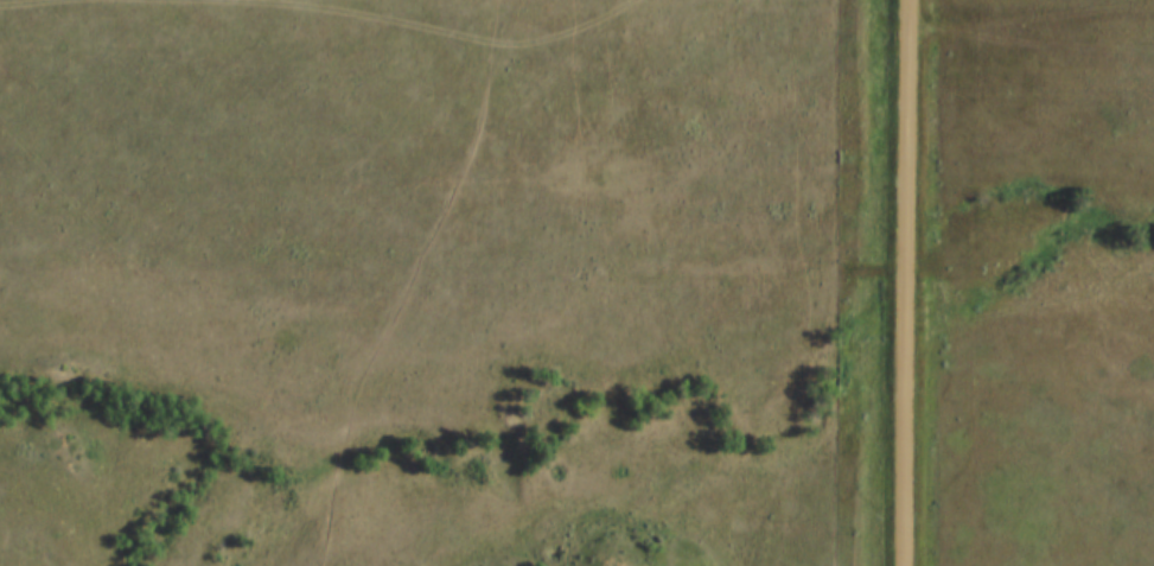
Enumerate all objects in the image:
road: (1031, 46)
road: (904, 282)

